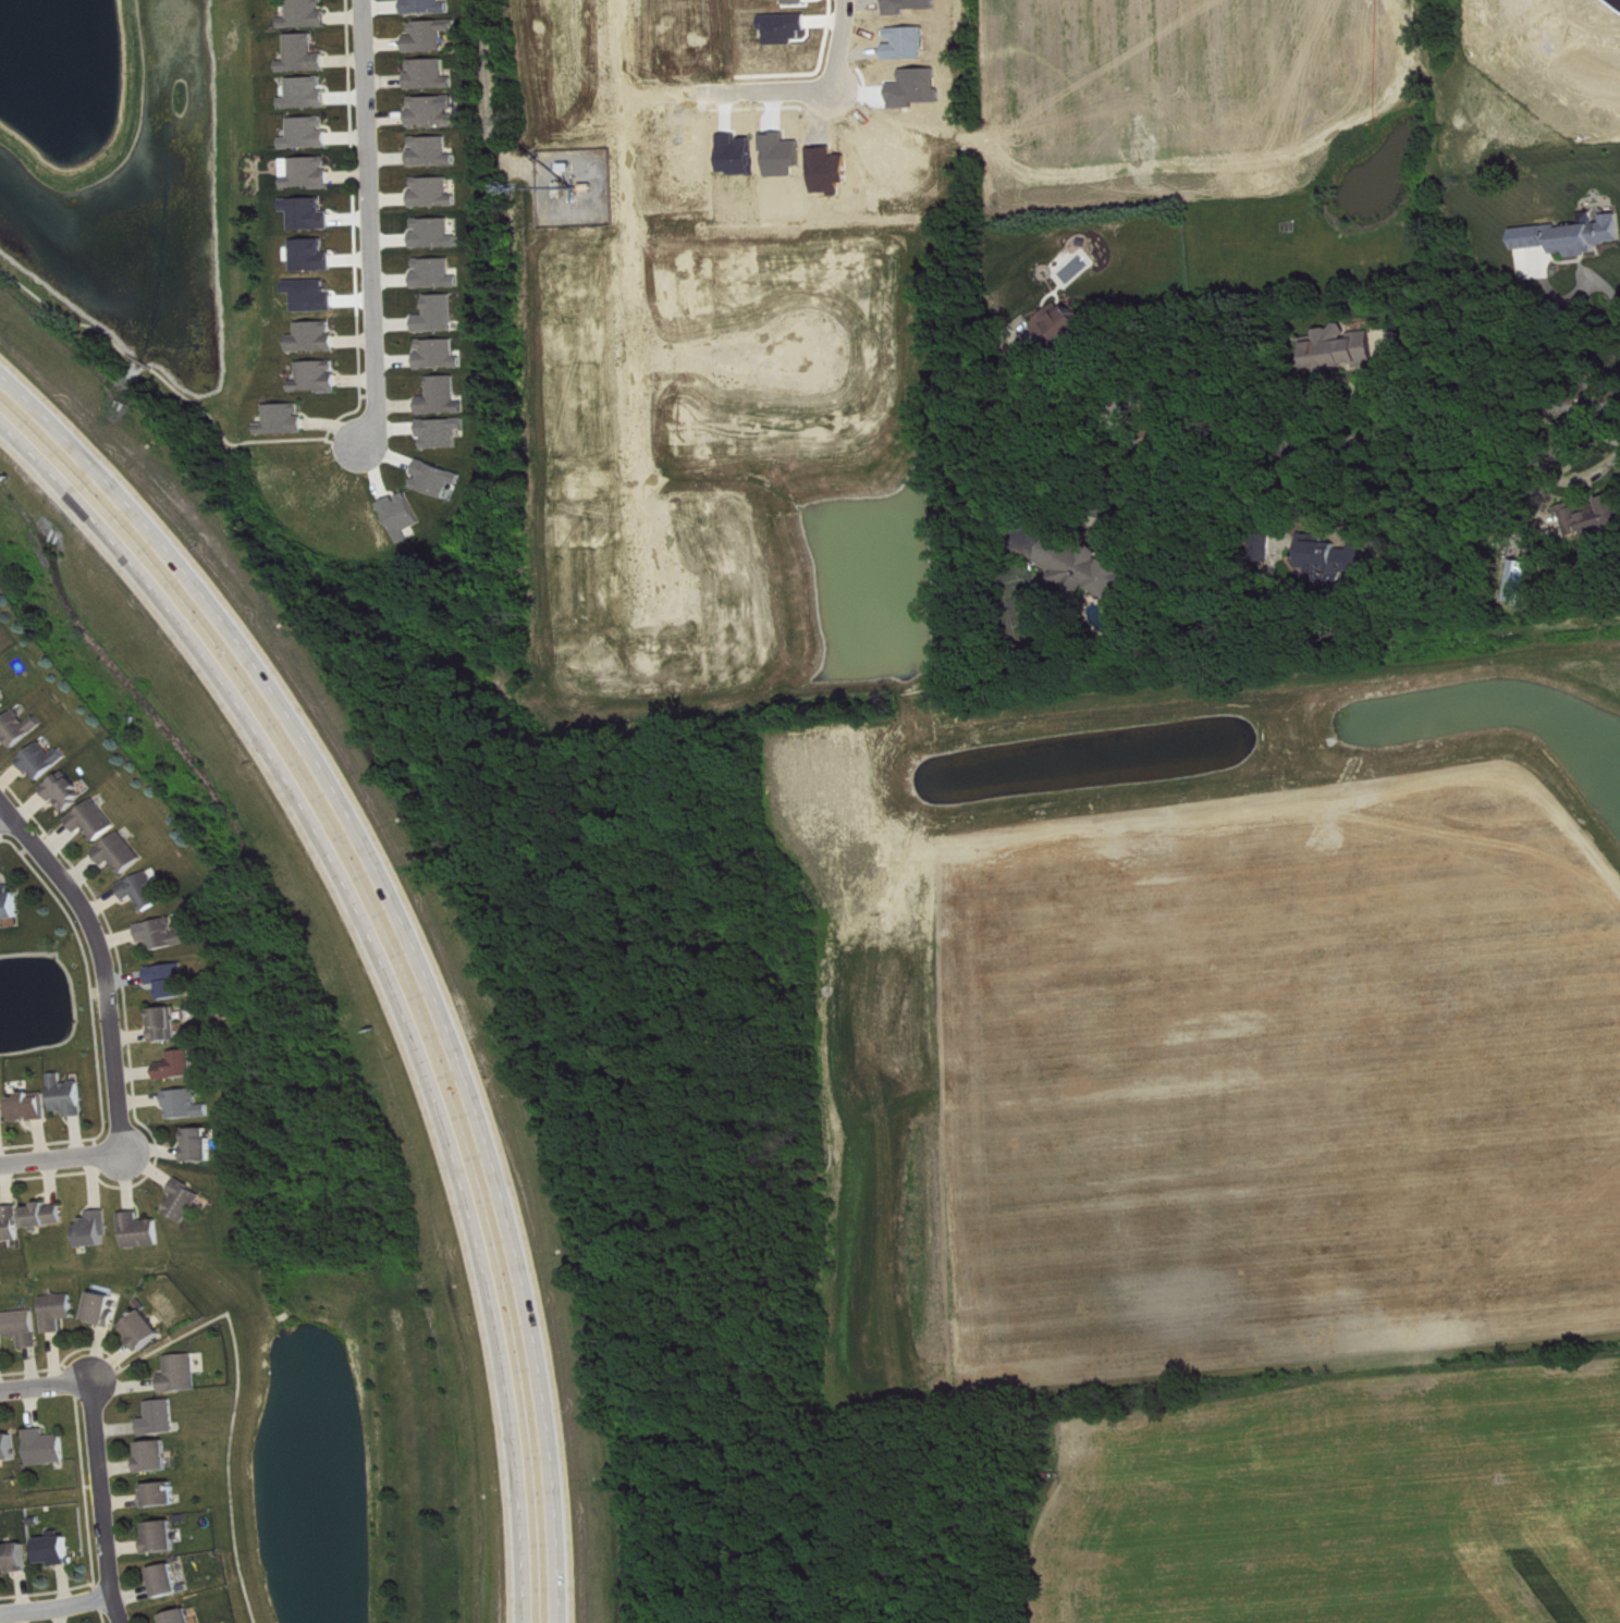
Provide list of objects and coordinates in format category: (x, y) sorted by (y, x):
building: (430, 7)
building: (309, 15)
building: (432, 36)
building: (306, 56)
building: (432, 75)
road: (829, 77)
road: (646, 88)
building: (308, 94)
building: (435, 111)
building: (311, 134)
building: (434, 152)
building: (310, 173)
building: (437, 193)
building: (312, 214)
road: (366, 224)
building: (438, 234)
building: (1573, 236)
building: (316, 256)
building: (439, 274)
building: (441, 315)
road: (1575, 320)
building: (1063, 327)
building: (318, 337)
building: (1343, 351)
building: (442, 355)
building: (320, 378)
road: (173, 383)
road: (1043, 396)
building: (446, 397)
building: (286, 420)
building: (445, 433)
road: (1367, 438)
road: (1550, 477)
building: (439, 479)
road: (1127, 509)
building: (405, 516)
building: (1594, 518)
building: (1087, 566)
building: (1524, 582)
building: (3, 703)
building: (22, 729)
building: (48, 761)
building: (70, 791)
road: (4, 817)
building: (98, 821)
building: (125, 853)
building: (148, 892)
building: (11, 905)
building: (167, 935)
road: (412, 936)
road: (101, 959)
road: (389, 963)
building: (173, 981)
building: (169, 1025)
building: (71, 1097)
building: (191, 1106)
building: (35, 1108)
building: (4, 1114)
building: (204, 1145)
road: (62, 1155)
building: (189, 1202)
building: (50, 1216)
building: (13, 1226)
building: (99, 1231)
building: (146, 1232)
building: (105, 1310)
building: (61, 1312)
building: (26, 1328)
building: (148, 1330)
building: (2, 1341)
building: (184, 1374)
road: (46, 1385)
building: (163, 1418)
building: (9, 1448)
building: (48, 1449)
building: (159, 1456)
building: (163, 1496)
road: (102, 1501)
building: (167, 1538)
building: (58, 1550)
building: (15, 1559)
building: (170, 1582)
road: (56, 1610)
building: (185, 1618)

